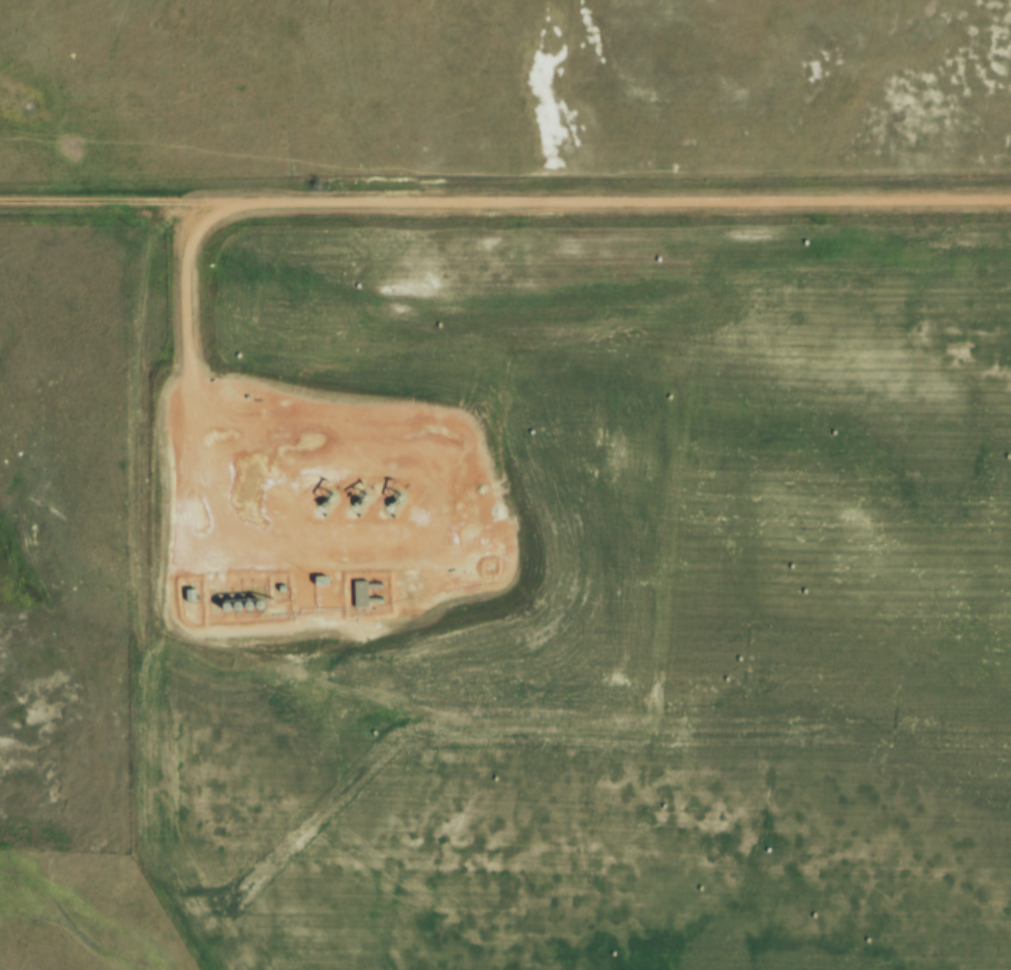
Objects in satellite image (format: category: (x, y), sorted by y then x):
road: (622, 196)
road: (116, 201)
road: (191, 364)

